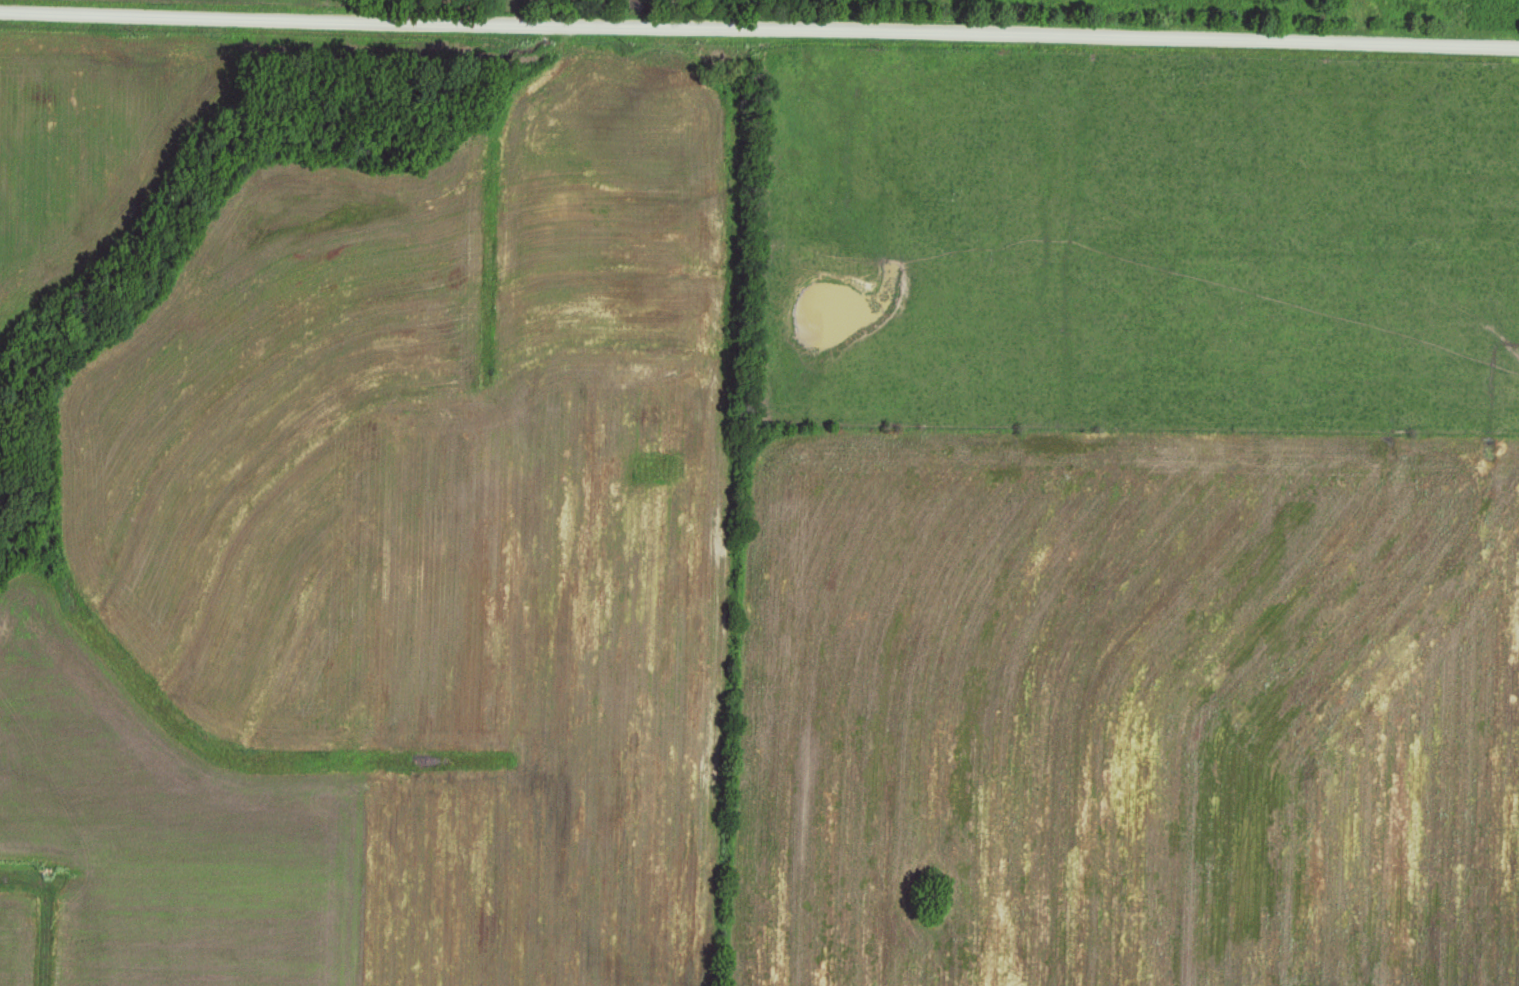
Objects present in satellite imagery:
road: (879, 28)

